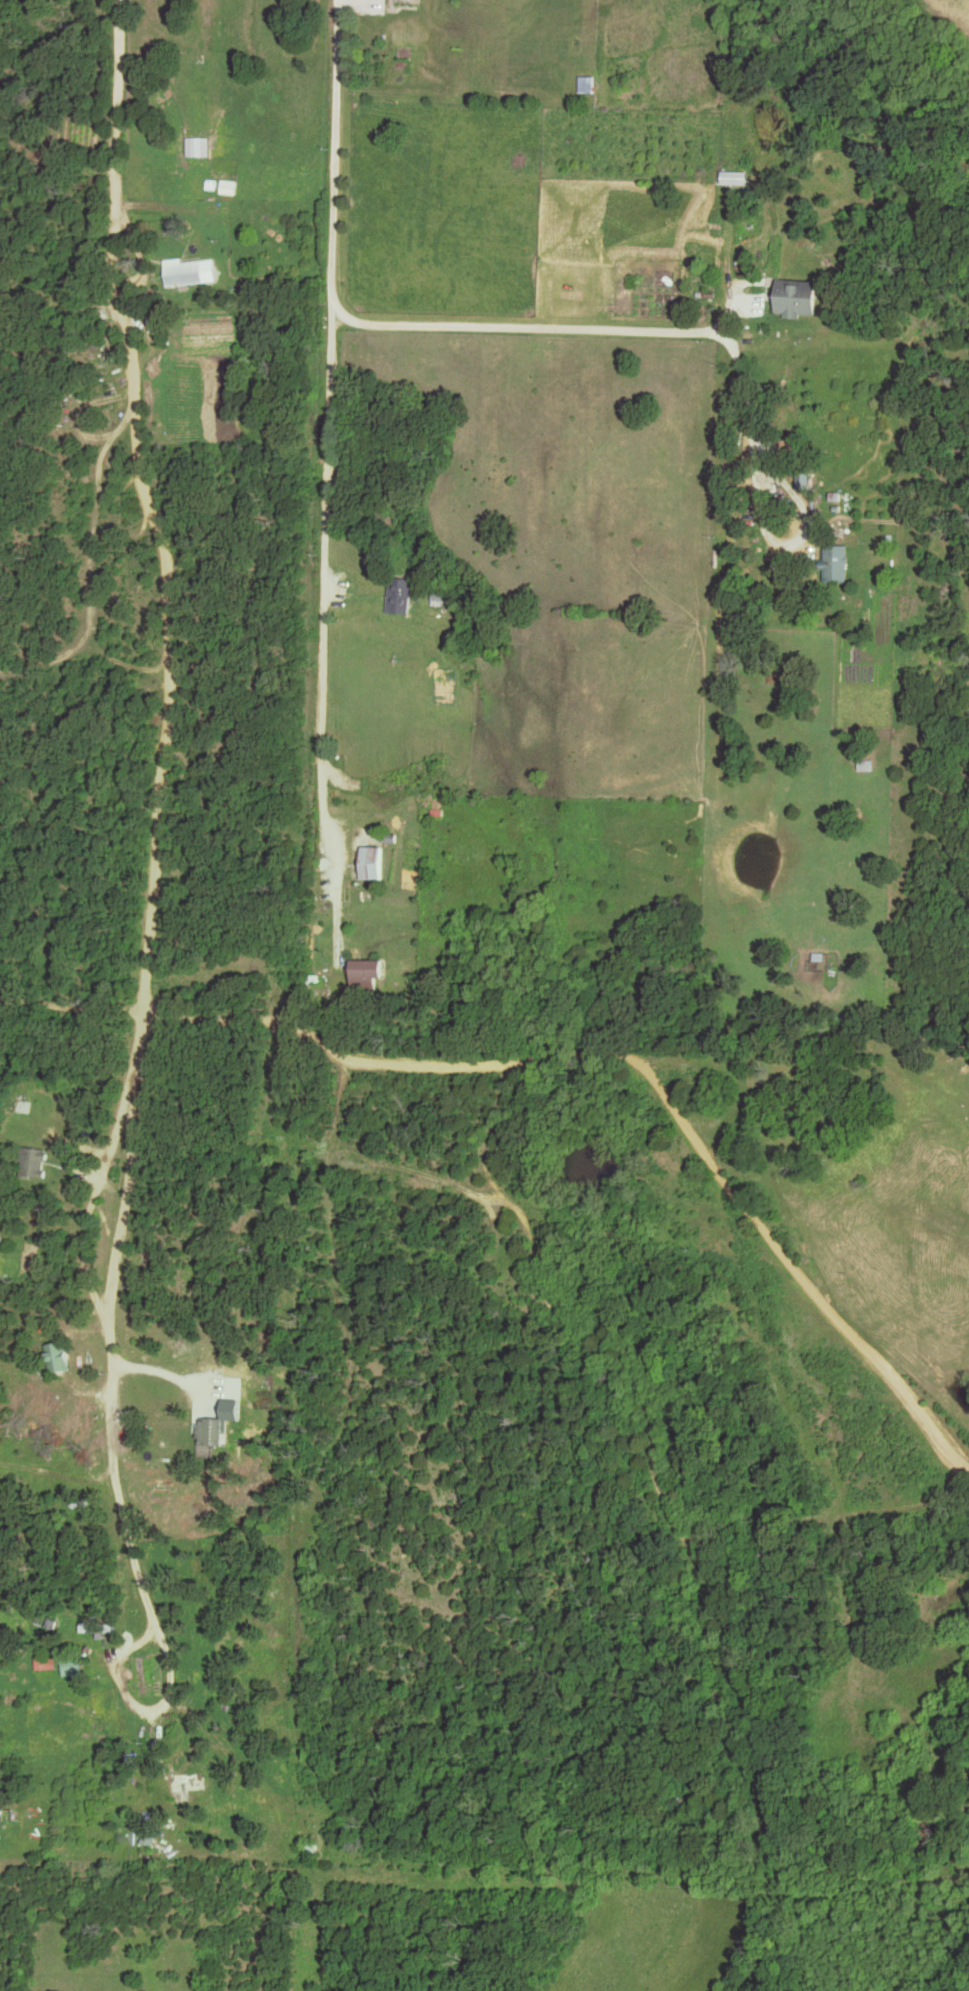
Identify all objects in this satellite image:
building: (588, 83)
building: (199, 146)
building: (730, 177)
building: (184, 272)
building: (794, 297)
road: (332, 308)
road: (710, 326)
building: (803, 479)
building: (835, 562)
building: (399, 601)
road: (325, 779)
building: (372, 862)
road: (154, 876)
building: (363, 974)
building: (33, 1163)
building: (57, 1357)
building: (207, 1432)
building: (73, 1666)
building: (187, 1781)

